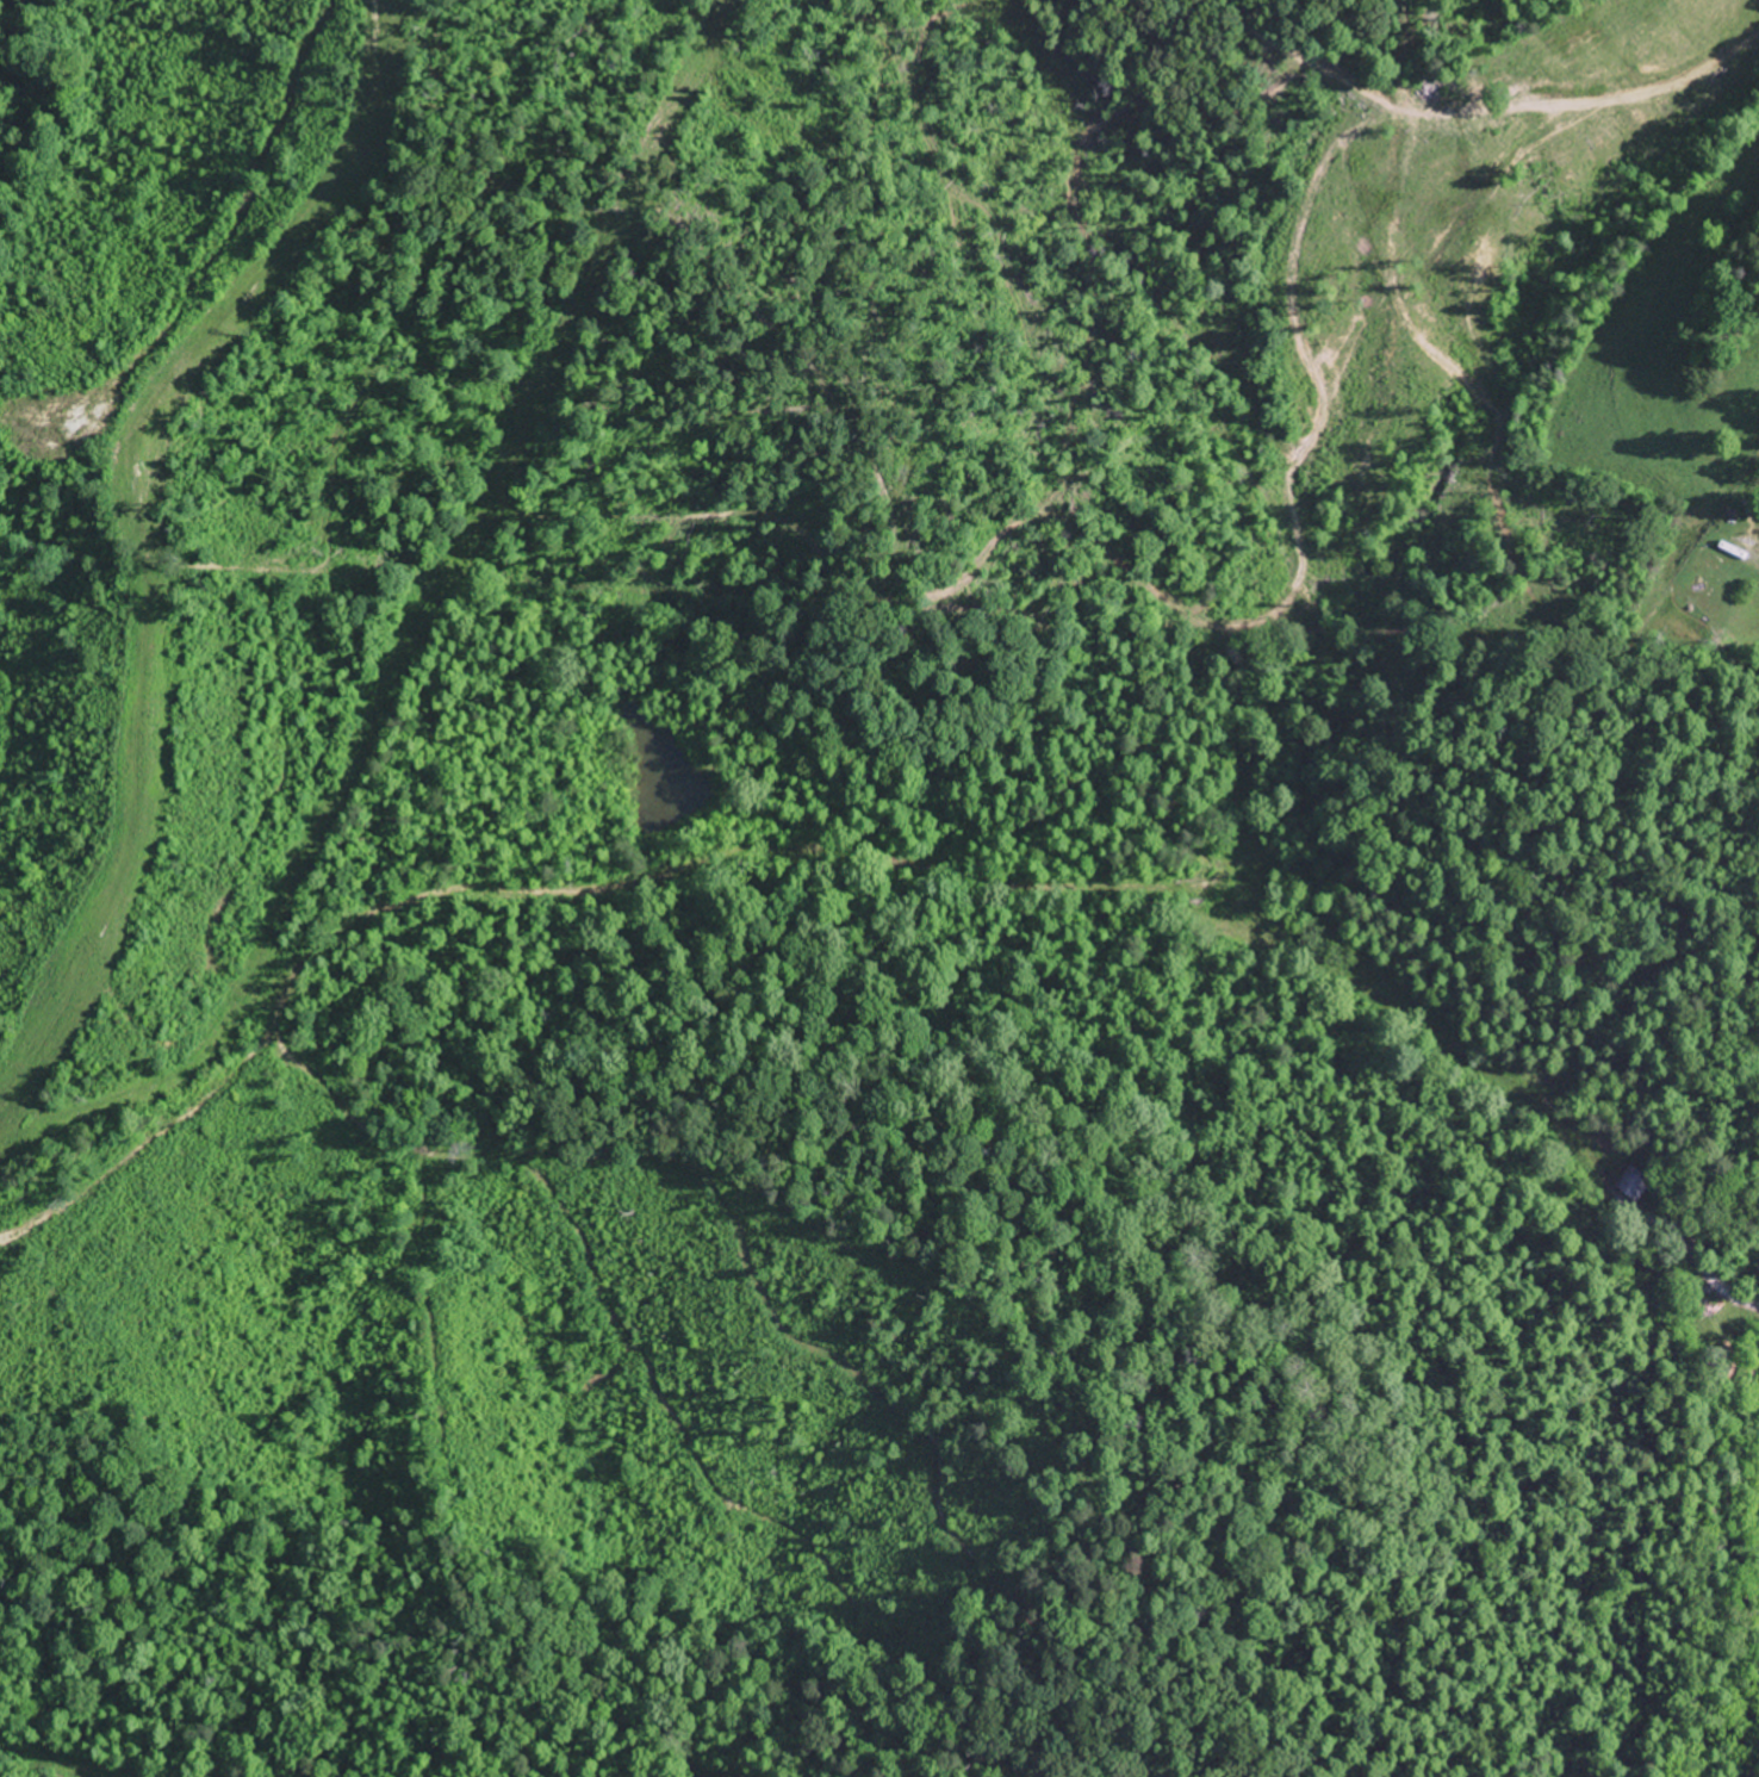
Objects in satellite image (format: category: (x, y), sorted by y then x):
building: (1629, 1183)

